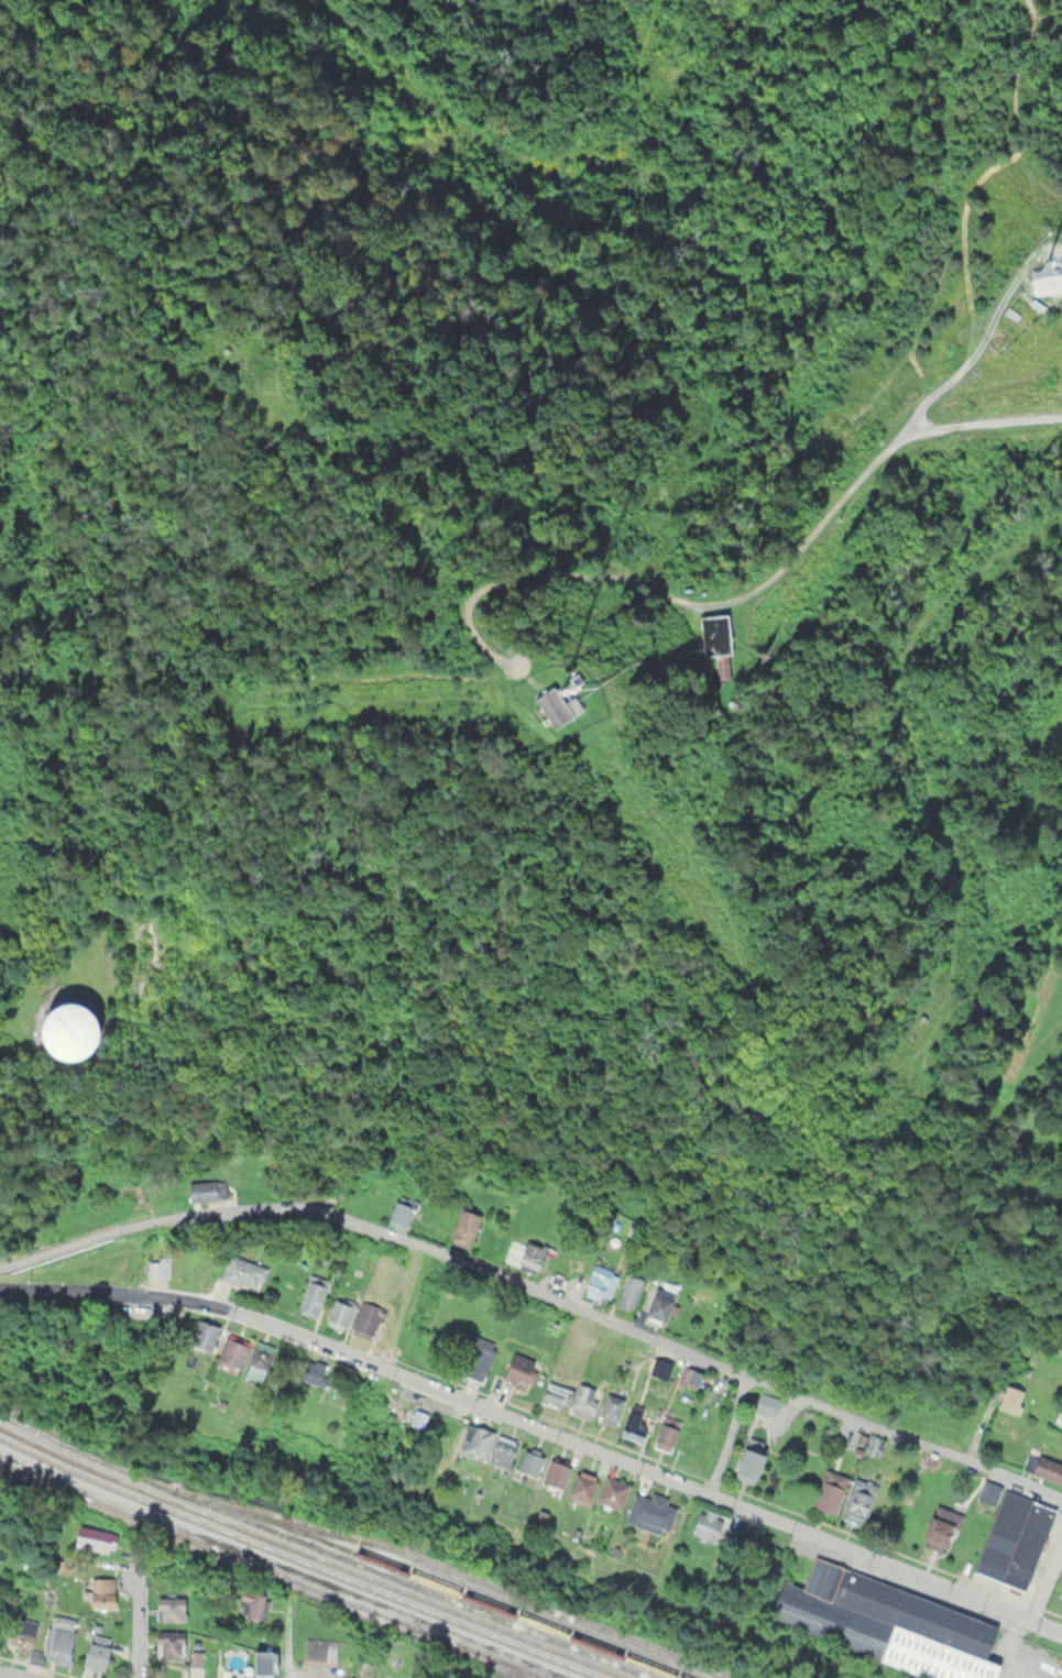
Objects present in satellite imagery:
road: (1041, 23)
road: (966, 222)
building: (1044, 284)
road: (735, 593)
building: (713, 633)
building: (545, 697)
road: (907, 741)
building: (53, 1029)
building: (204, 1188)
building: (401, 1210)
building: (462, 1226)
building: (524, 1253)
building: (157, 1265)
building: (241, 1271)
building: (596, 1281)
road: (537, 1284)
building: (626, 1291)
road: (121, 1296)
building: (309, 1296)
building: (657, 1303)
building: (337, 1312)
building: (365, 1318)
park: (1058, 1320)
building: (200, 1334)
building: (229, 1351)
building: (473, 1357)
building: (258, 1359)
building: (657, 1367)
building: (515, 1368)
building: (310, 1372)
building: (688, 1375)
building: (568, 1396)
building: (1008, 1397)
building: (765, 1403)
building: (607, 1407)
building: (1058, 1415)
building: (416, 1417)
building: (633, 1423)
building: (664, 1432)
road: (730, 1435)
building: (474, 1441)
building: (500, 1450)
building: (747, 1459)
building: (527, 1462)
building: (1043, 1467)
road: (650, 1469)
building: (552, 1473)
building: (580, 1485)
building: (828, 1491)
building: (610, 1492)
building: (989, 1492)
building: (857, 1500)
building: (648, 1511)
building: (712, 1526)
building: (935, 1528)
building: (1015, 1537)
building: (90, 1538)
railway: (324, 1547)
railway: (314, 1556)
railway: (300, 1559)
railway: (280, 1569)
railway: (473, 1576)
road: (1052, 1590)
building: (100, 1591)
building: (1060, 1591)
railway: (474, 1595)
building: (249, 1604)
building: (169, 1608)
building: (886, 1622)
building: (20, 1630)
road: (136, 1635)
building: (58, 1637)
building: (168, 1642)
road: (288, 1643)
building: (319, 1648)
building: (94, 1654)
building: (261, 1663)
road: (14, 1674)
road: (4, 1675)
building: (196, 1677)

